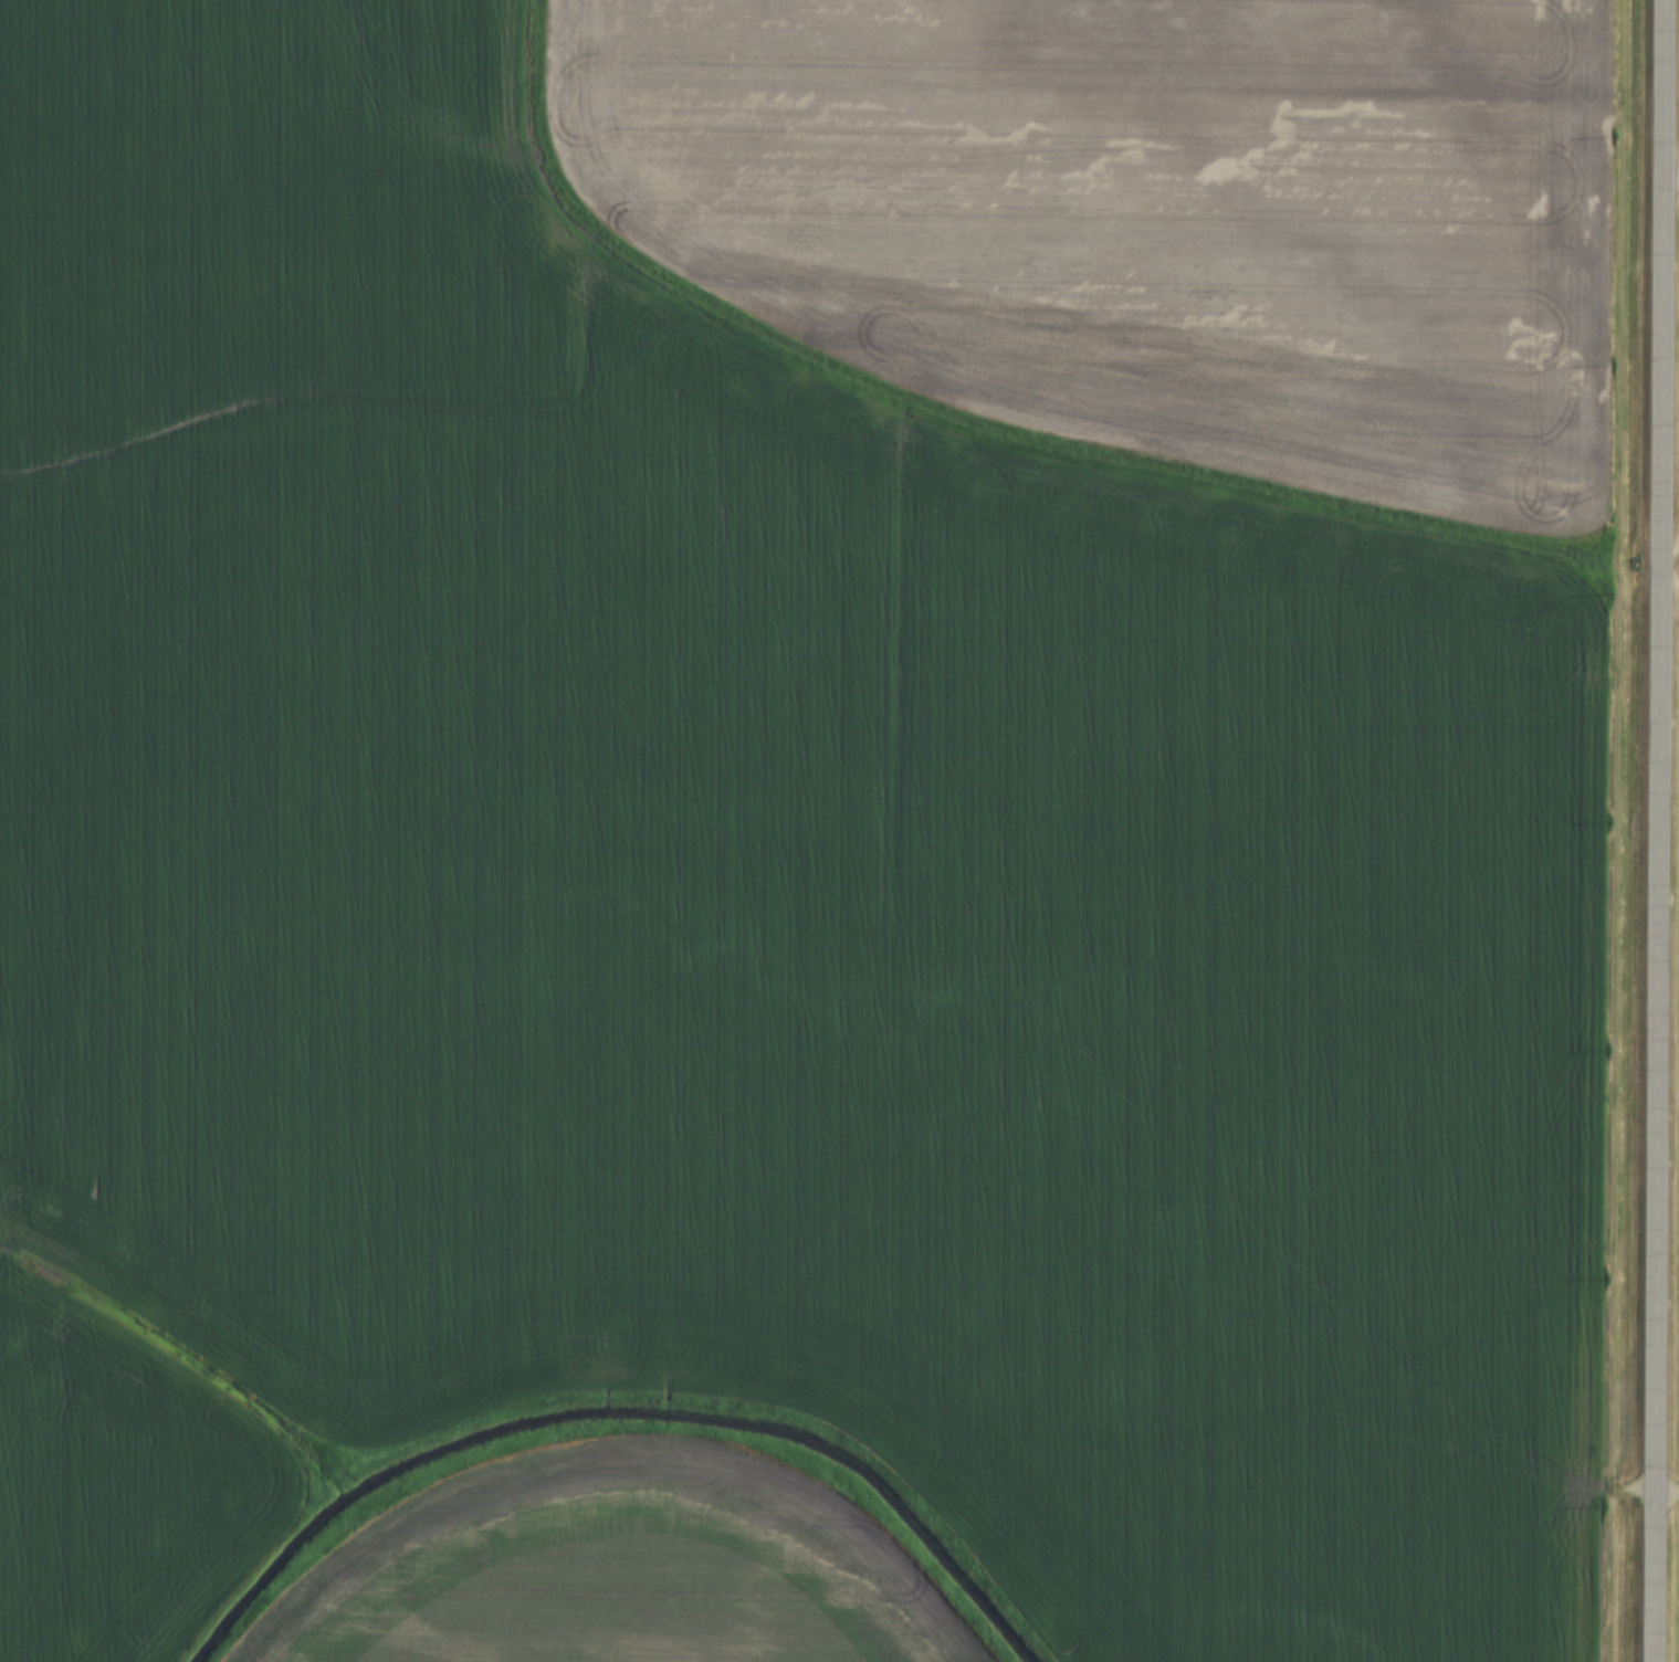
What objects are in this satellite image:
road: (1664, 831)

